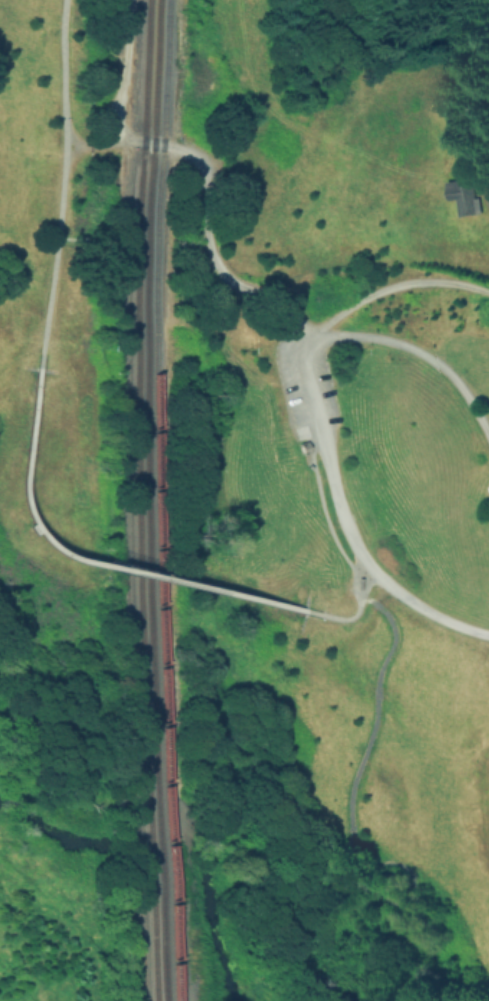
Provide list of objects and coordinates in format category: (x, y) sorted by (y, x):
road: (64, 184)
building: (464, 196)
road: (210, 201)
road: (397, 293)
road: (423, 356)
parking lot: (304, 376)
building: (302, 429)
road: (334, 462)
railway: (138, 500)
railway: (150, 500)
railway: (159, 500)
road: (405, 551)
road: (83, 563)
road: (368, 567)
road: (402, 601)
building: (380, 650)
road: (465, 683)
parking lot: (469, 686)
road: (351, 845)

